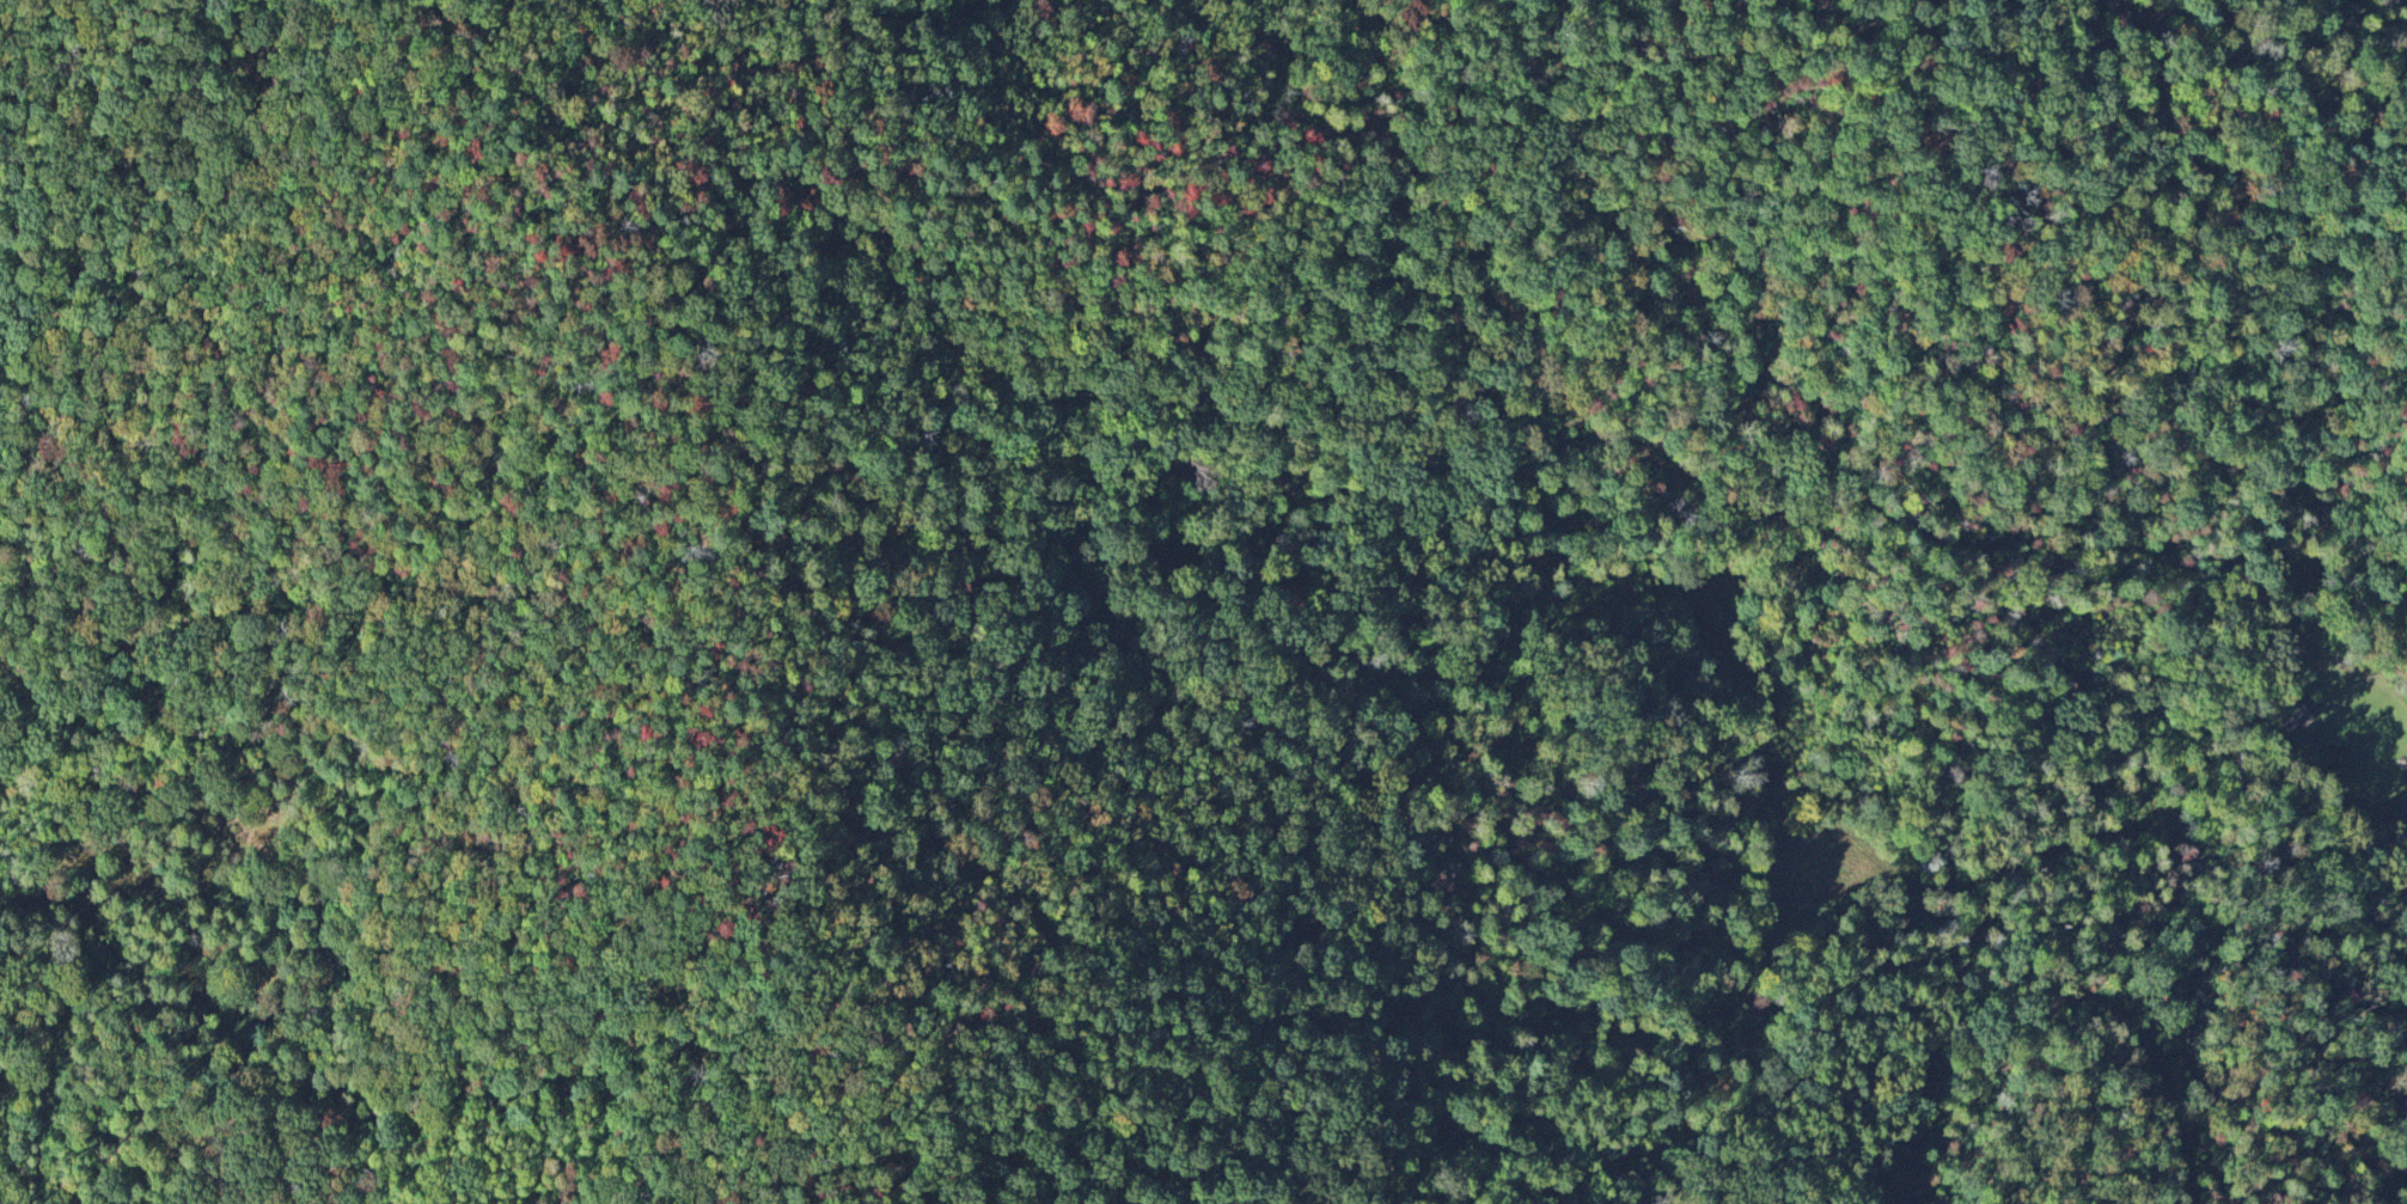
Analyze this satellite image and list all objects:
road: (2391, 30)

